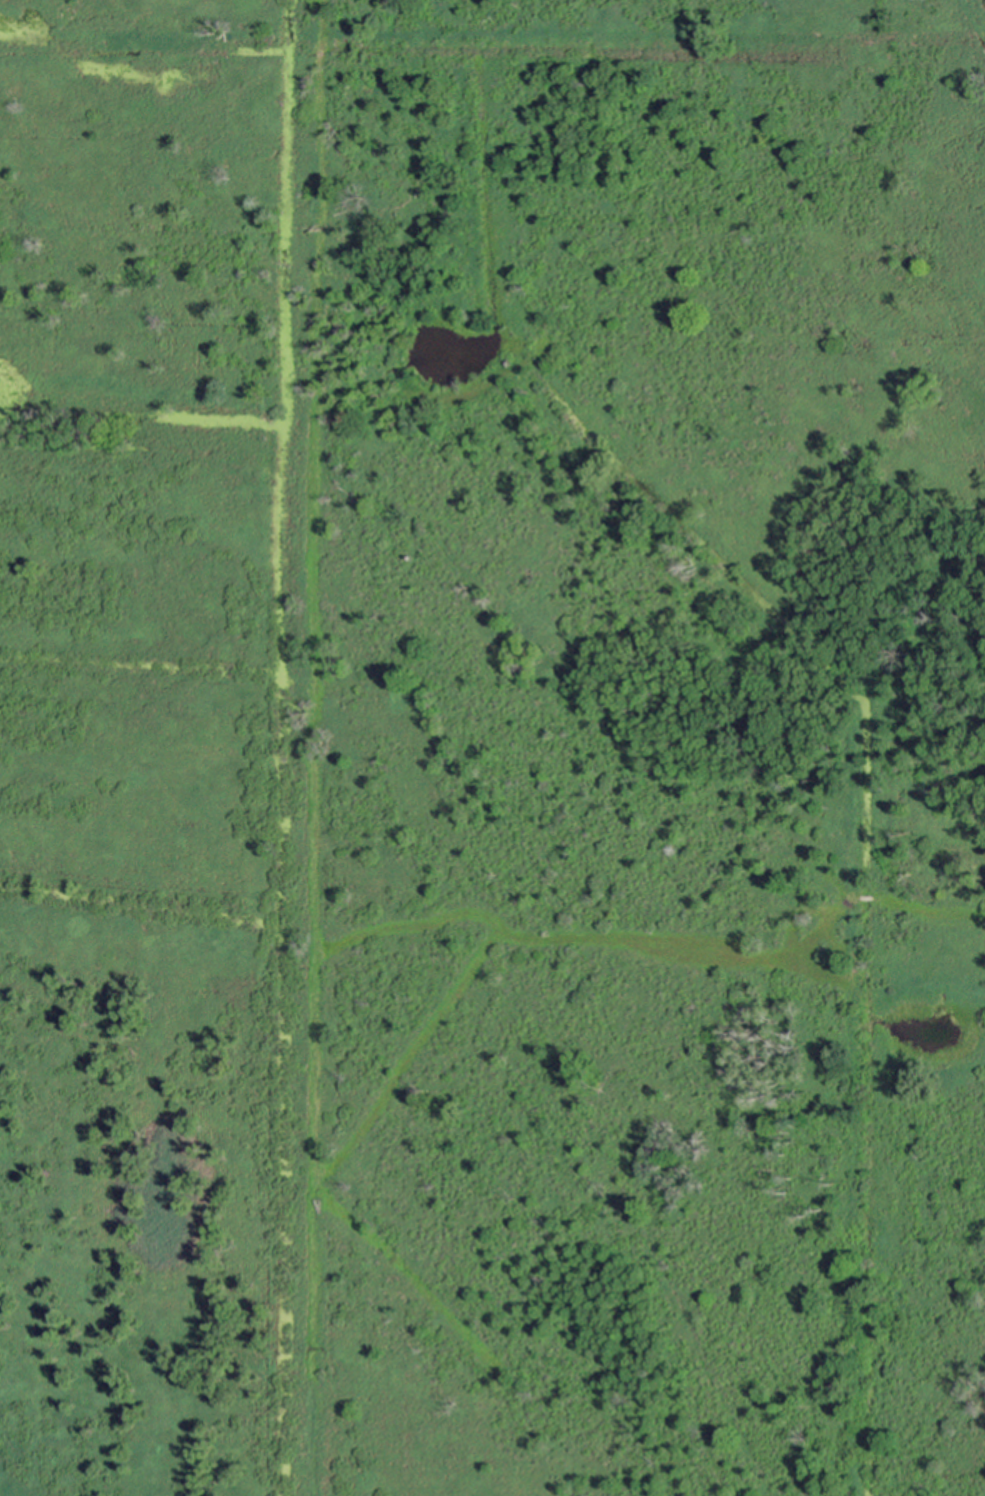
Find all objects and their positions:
building: (509, 363)
building: (864, 898)
building: (314, 1192)

